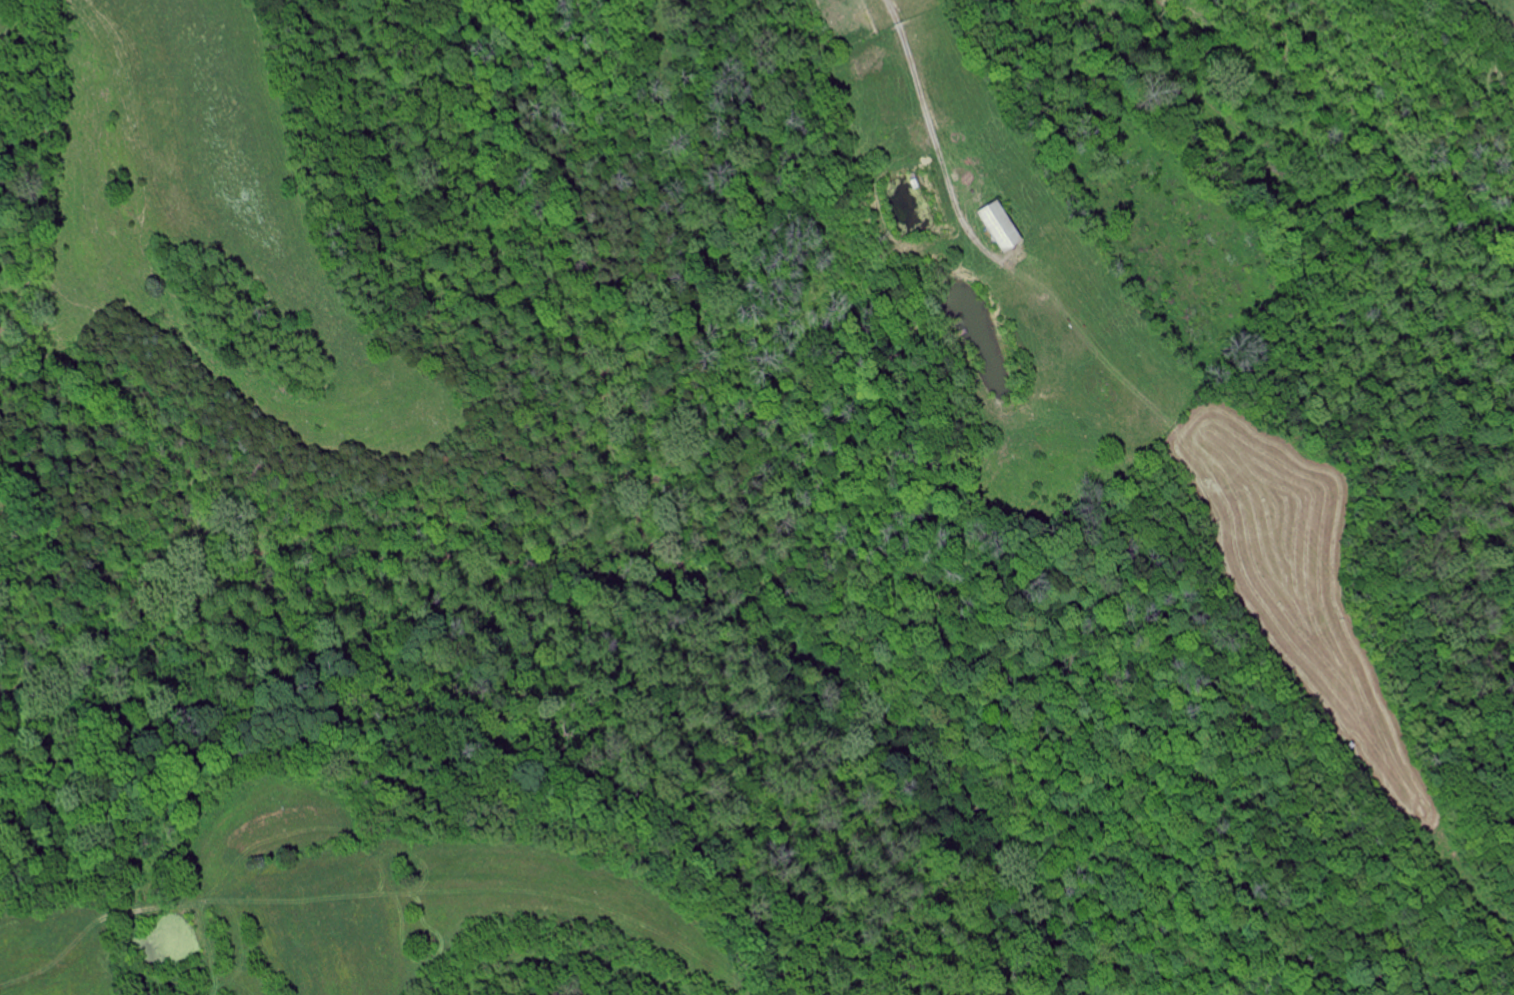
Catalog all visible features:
road: (932, 130)
building: (991, 226)

